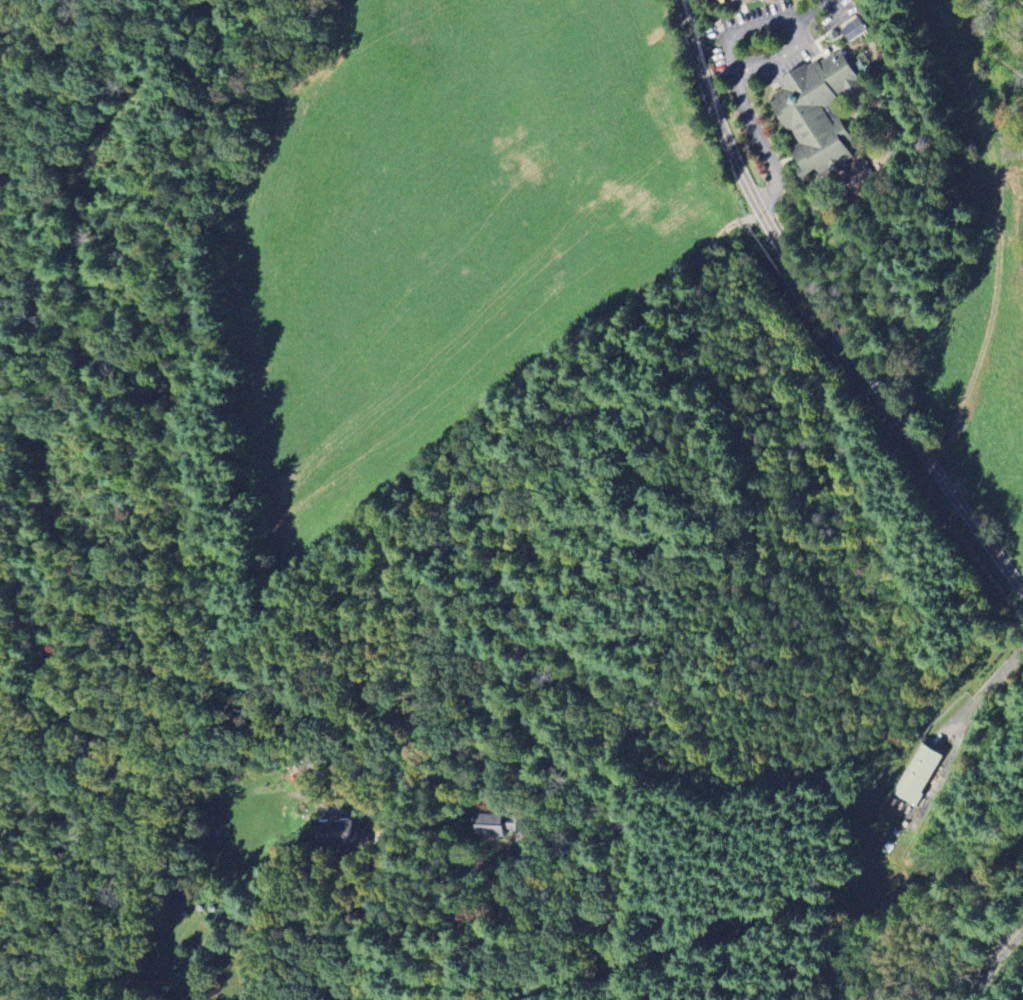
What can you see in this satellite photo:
road: (835, 7)
road: (813, 13)
building: (854, 30)
road: (797, 32)
building: (817, 112)
road: (750, 122)
road: (173, 178)
crop: (442, 228)
road: (84, 293)
road: (822, 310)
road: (366, 518)
road: (516, 583)
road: (680, 643)
road: (979, 698)
building: (920, 774)
building: (492, 825)
building: (342, 832)
road: (376, 878)
road: (996, 957)

